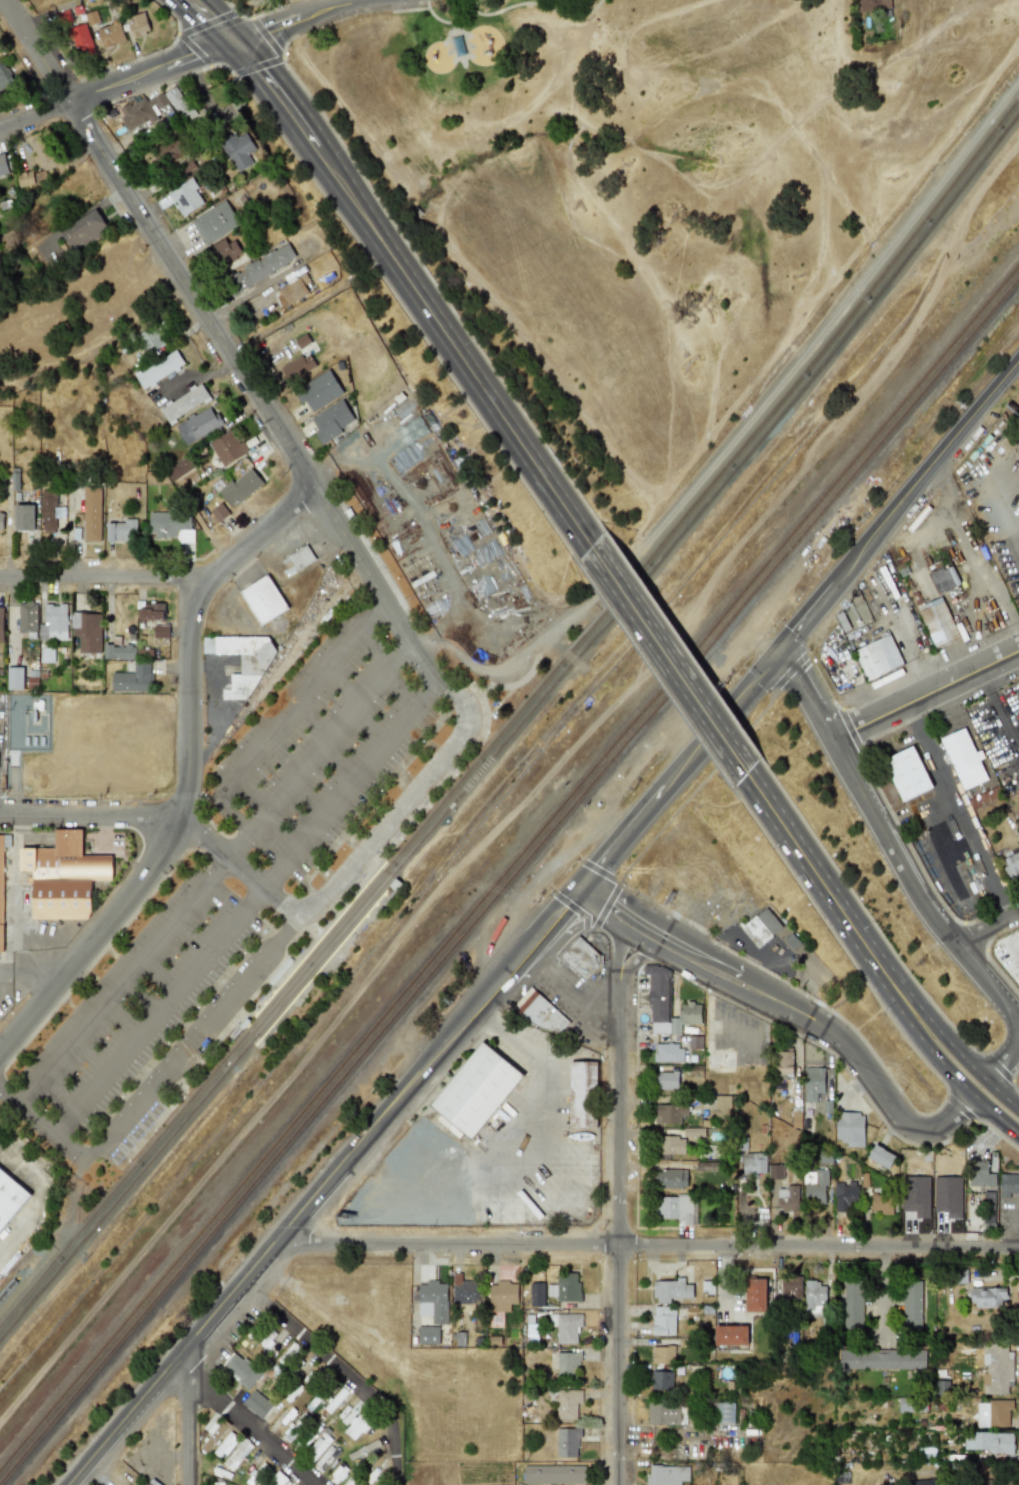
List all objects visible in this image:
building: (873, 4)
road: (294, 17)
road: (213, 19)
building: (138, 25)
building: (111, 34)
building: (81, 40)
road: (37, 50)
road: (152, 69)
building: (5, 78)
building: (156, 108)
road: (34, 112)
building: (172, 149)
building: (238, 150)
building: (44, 153)
building: (3, 165)
building: (25, 179)
building: (185, 197)
building: (214, 222)
building: (84, 230)
building: (224, 252)
building: (262, 267)
building: (294, 289)
road: (418, 289)
road: (191, 291)
building: (150, 339)
building: (297, 367)
building: (159, 369)
building: (318, 391)
building: (184, 403)
building: (331, 421)
building: (198, 425)
building: (227, 448)
building: (179, 469)
building: (240, 487)
road: (993, 499)
road: (898, 503)
building: (49, 511)
building: (219, 512)
building: (91, 514)
building: (23, 518)
building: (1, 521)
building: (171, 526)
road: (422, 526)
building: (121, 531)
road: (969, 555)
building: (297, 559)
road: (103, 578)
building: (944, 579)
building: (263, 599)
building: (151, 612)
building: (27, 619)
building: (53, 623)
building: (938, 623)
building: (1, 625)
road: (189, 630)
building: (87, 631)
building: (161, 632)
road: (903, 636)
building: (119, 652)
building: (46, 655)
road: (670, 657)
building: (877, 657)
building: (242, 661)
road: (510, 662)
building: (14, 678)
building: (134, 679)
road: (807, 693)
road: (926, 694)
road: (999, 708)
road: (462, 709)
railway: (515, 712)
road: (279, 715)
road: (717, 722)
railway: (514, 727)
building: (964, 759)
building: (907, 773)
road: (346, 781)
road: (953, 800)
road: (91, 815)
road: (949, 818)
road: (617, 842)
road: (940, 856)
building: (1011, 865)
railway: (509, 868)
road: (243, 870)
road: (814, 870)
parking lot: (243, 871)
road: (209, 875)
building: (63, 877)
building: (2, 881)
railway: (509, 881)
road: (915, 888)
road: (601, 904)
road: (628, 923)
road: (571, 926)
building: (762, 926)
road: (987, 927)
road: (18, 931)
road: (64, 932)
road: (642, 932)
road: (92, 939)
road: (46, 943)
railway: (314, 943)
road: (617, 953)
building: (582, 958)
railway: (322, 960)
road: (694, 960)
road: (633, 961)
road: (25, 967)
road: (516, 980)
road: (897, 984)
road: (889, 988)
road: (574, 999)
building: (667, 1004)
road: (784, 1005)
road: (154, 1011)
building: (543, 1014)
road: (191, 1044)
road: (316, 1047)
building: (668, 1052)
road: (961, 1056)
building: (719, 1061)
road: (1003, 1063)
building: (783, 1064)
road: (951, 1074)
building: (667, 1080)
building: (814, 1082)
building: (474, 1092)
building: (583, 1094)
building: (723, 1106)
road: (895, 1109)
building: (671, 1113)
building: (850, 1128)
road: (42, 1131)
building: (673, 1145)
road: (554, 1146)
building: (881, 1155)
building: (755, 1163)
building: (774, 1171)
building: (980, 1174)
building: (671, 1179)
road: (321, 1184)
building: (1009, 1184)
building: (816, 1187)
building: (846, 1196)
building: (11, 1198)
building: (788, 1198)
road: (35, 1202)
building: (882, 1204)
building: (677, 1208)
building: (989, 1211)
road: (615, 1235)
road: (649, 1242)
railway: (8, 1285)
building: (791, 1286)
building: (564, 1288)
building: (672, 1290)
building: (465, 1291)
building: (503, 1292)
building: (536, 1294)
building: (756, 1294)
building: (987, 1297)
building: (434, 1298)
building: (815, 1298)
building: (853, 1304)
building: (912, 1304)
building: (664, 1320)
building: (566, 1326)
building: (428, 1335)
building: (731, 1336)
building: (661, 1354)
building: (885, 1359)
building: (568, 1366)
building: (997, 1368)
building: (241, 1370)
building: (662, 1379)
road: (357, 1381)
building: (257, 1403)
building: (567, 1404)
building: (904, 1405)
building: (663, 1412)
building: (725, 1412)
building: (994, 1413)
road: (189, 1418)
building: (357, 1425)
road: (258, 1429)
building: (294, 1429)
building: (308, 1435)
building: (214, 1436)
building: (568, 1442)
building: (991, 1443)
building: (226, 1445)
building: (319, 1446)
building: (685, 1450)
building: (922, 1453)
building: (235, 1457)
building: (325, 1457)
road: (103, 1471)
building: (257, 1474)
building: (554, 1474)
building: (664, 1475)
building: (277, 1479)
building: (923, 1482)
building: (996, 1482)
building: (217, 1483)

